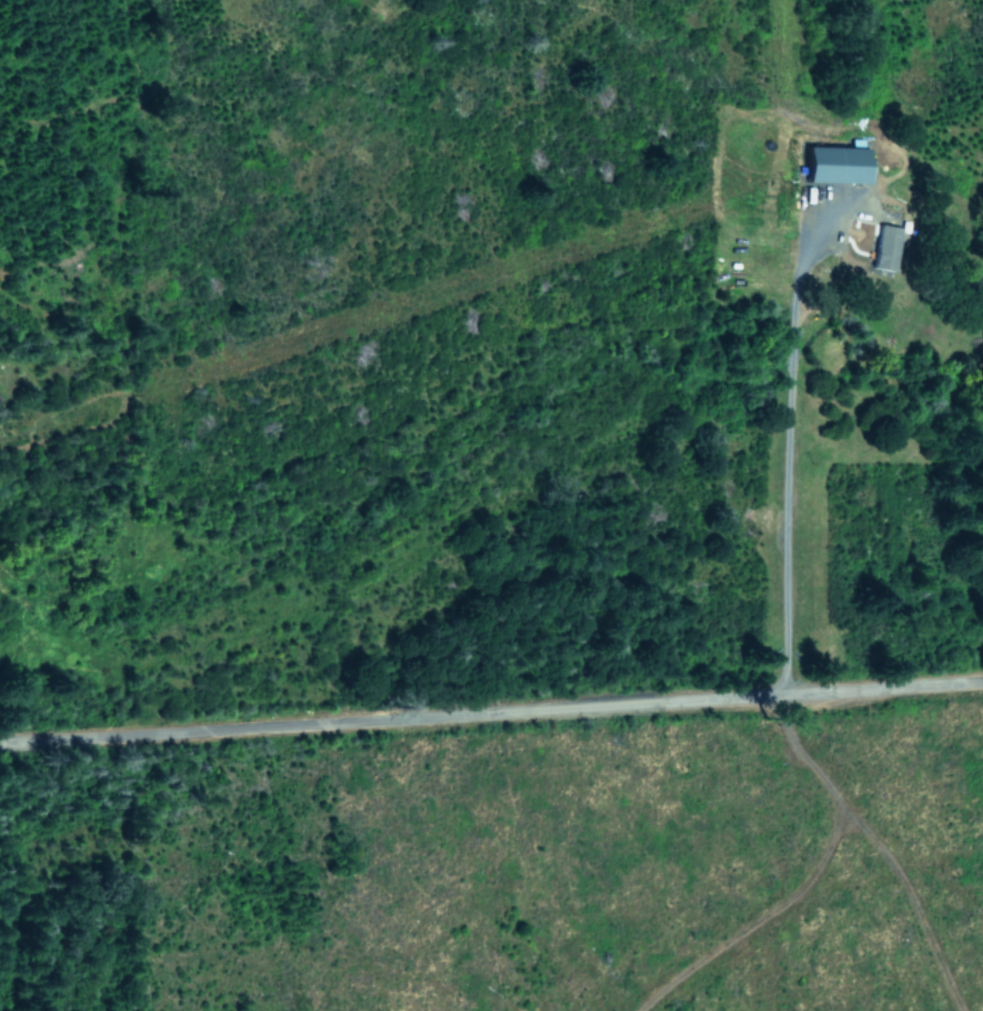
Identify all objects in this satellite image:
building: (835, 163)
building: (885, 247)
road: (785, 434)
road: (491, 715)

